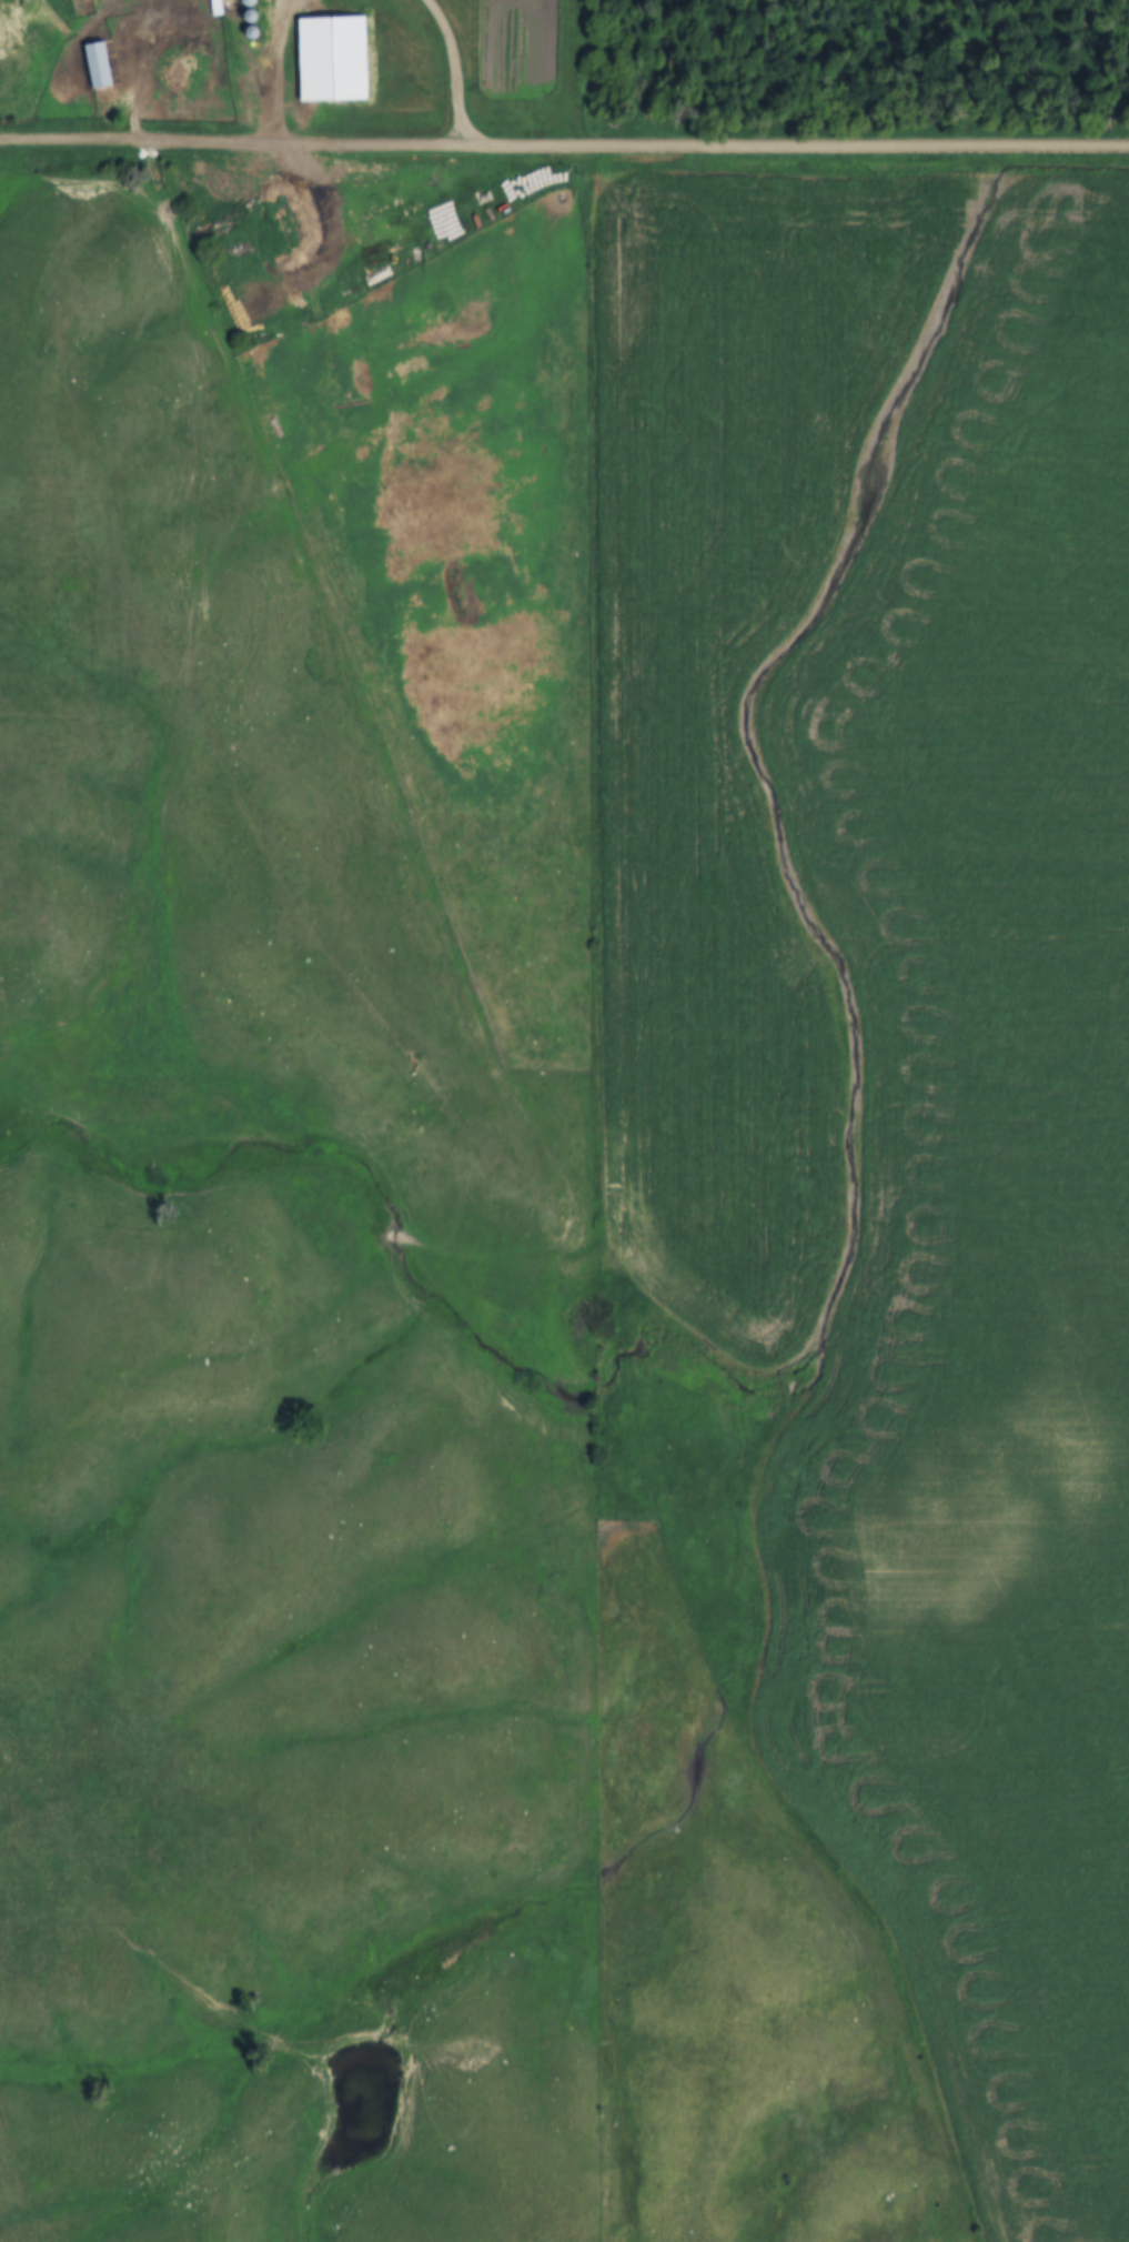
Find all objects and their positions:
building: (335, 61)
building: (103, 67)
road: (456, 69)
road: (280, 70)
road: (140, 134)
road: (704, 148)

